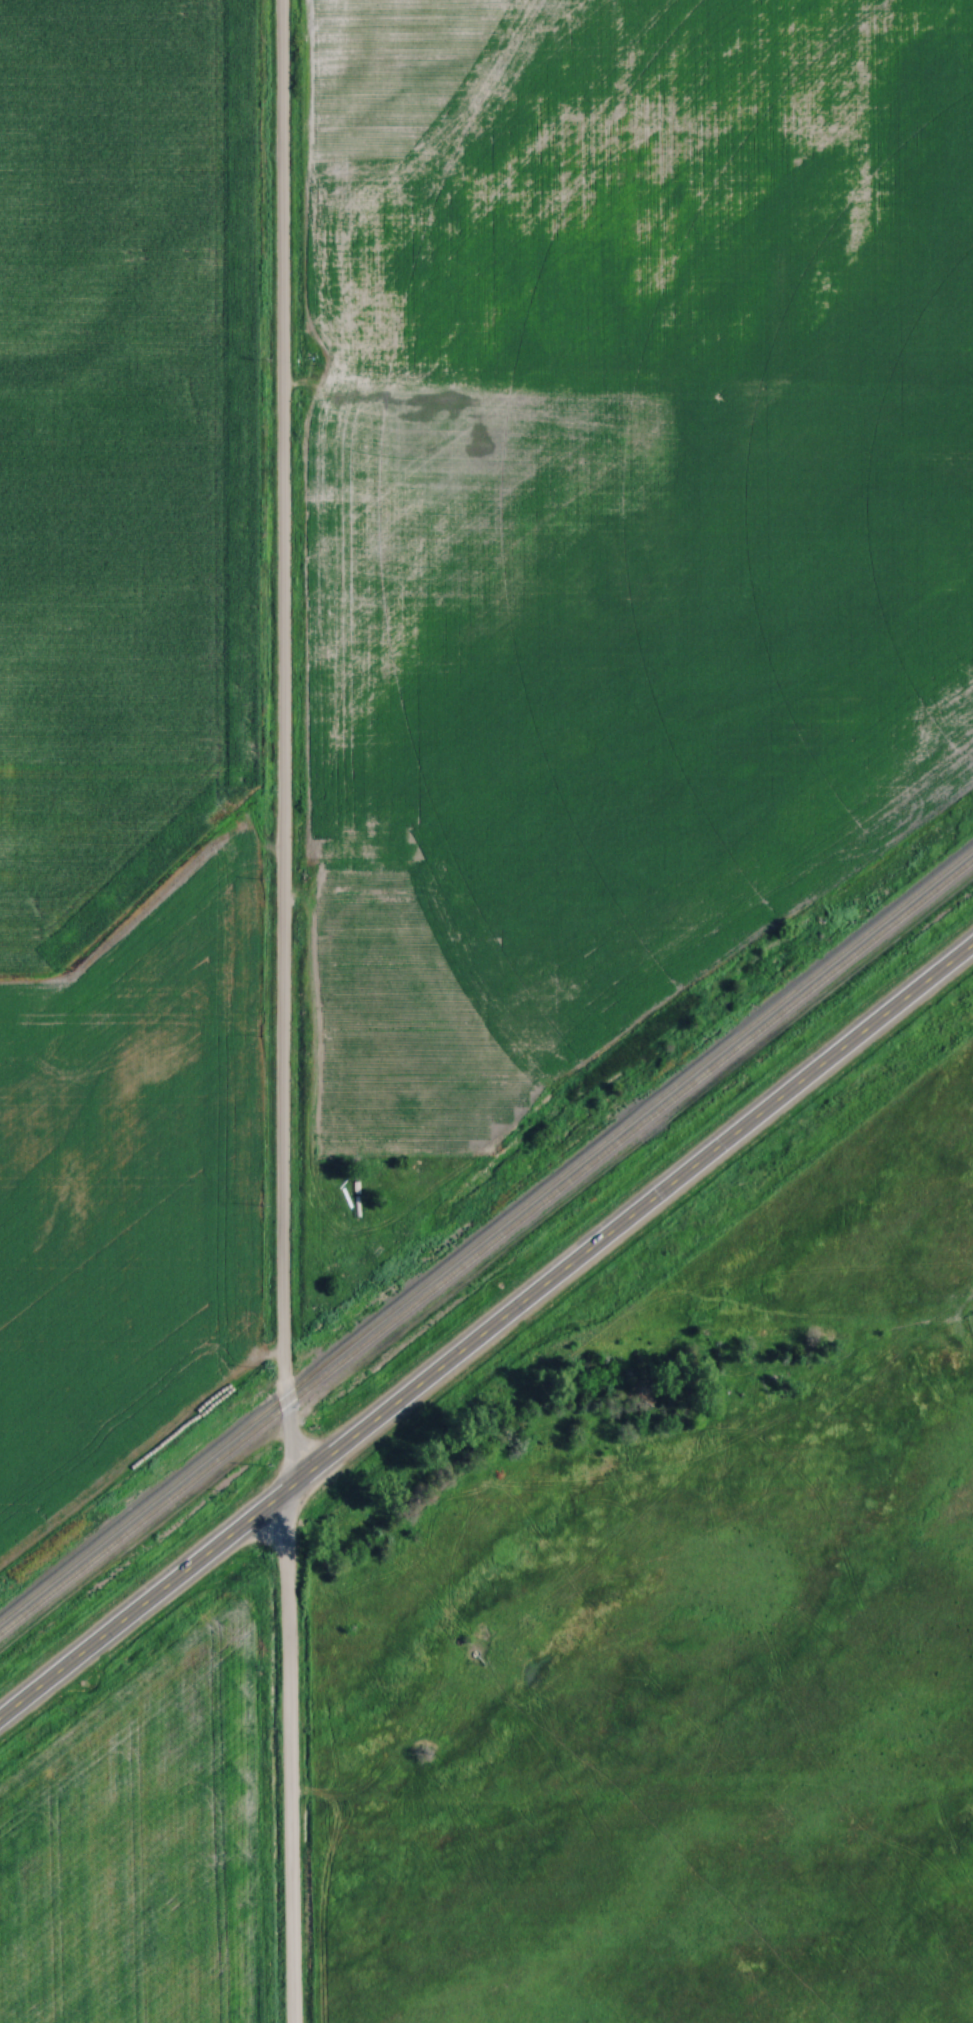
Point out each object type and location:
road: (282, 1011)
railway: (486, 1234)
railway: (486, 1246)
road: (485, 1331)

